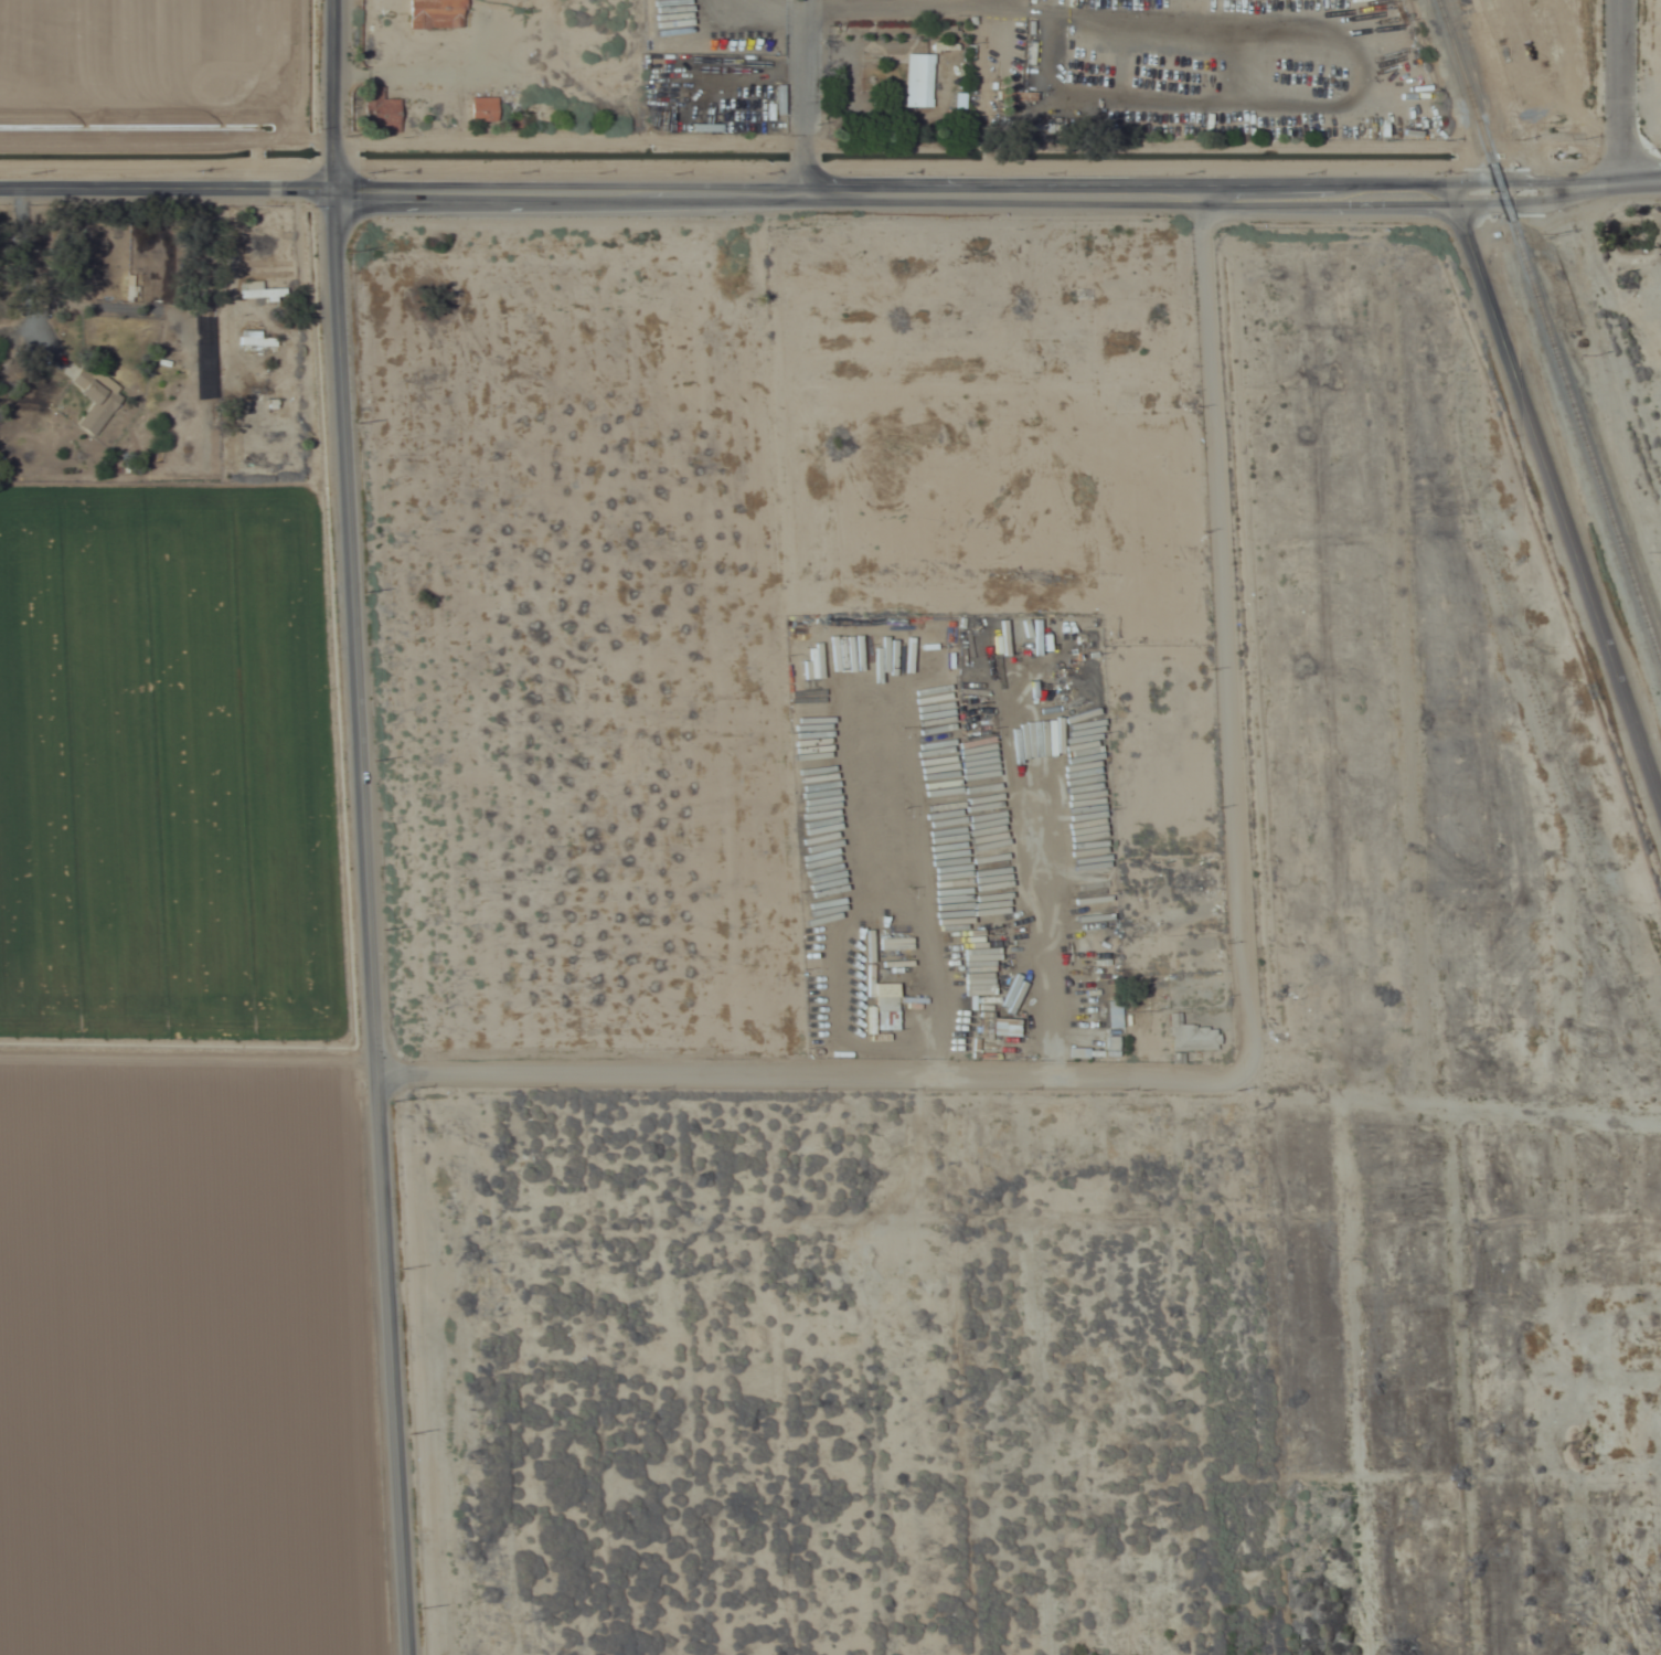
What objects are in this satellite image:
building: (435, 14)
building: (915, 78)
road: (1620, 93)
building: (481, 109)
building: (380, 114)
road: (830, 185)
building: (256, 291)
railway: (1550, 331)
building: (93, 397)
road: (1555, 496)
railway: (1596, 506)
road: (1224, 625)
crop: (168, 758)
road: (337, 832)
building: (884, 1015)
building: (1190, 1038)
road: (813, 1078)

